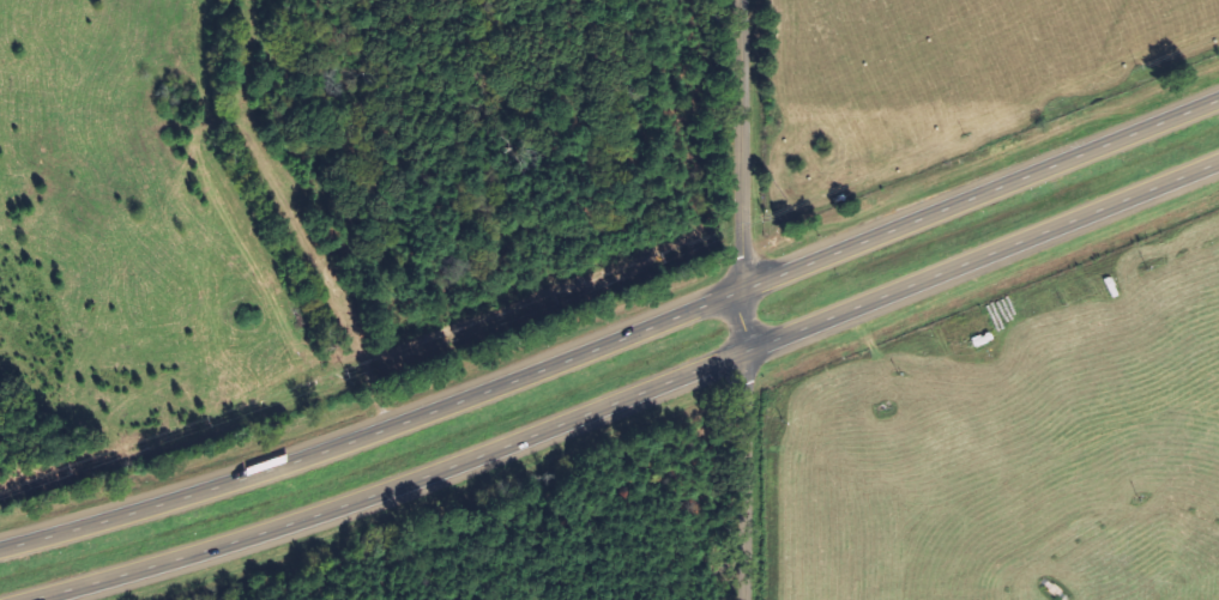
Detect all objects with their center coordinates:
road: (743, 299)
road: (615, 340)
road: (627, 396)

